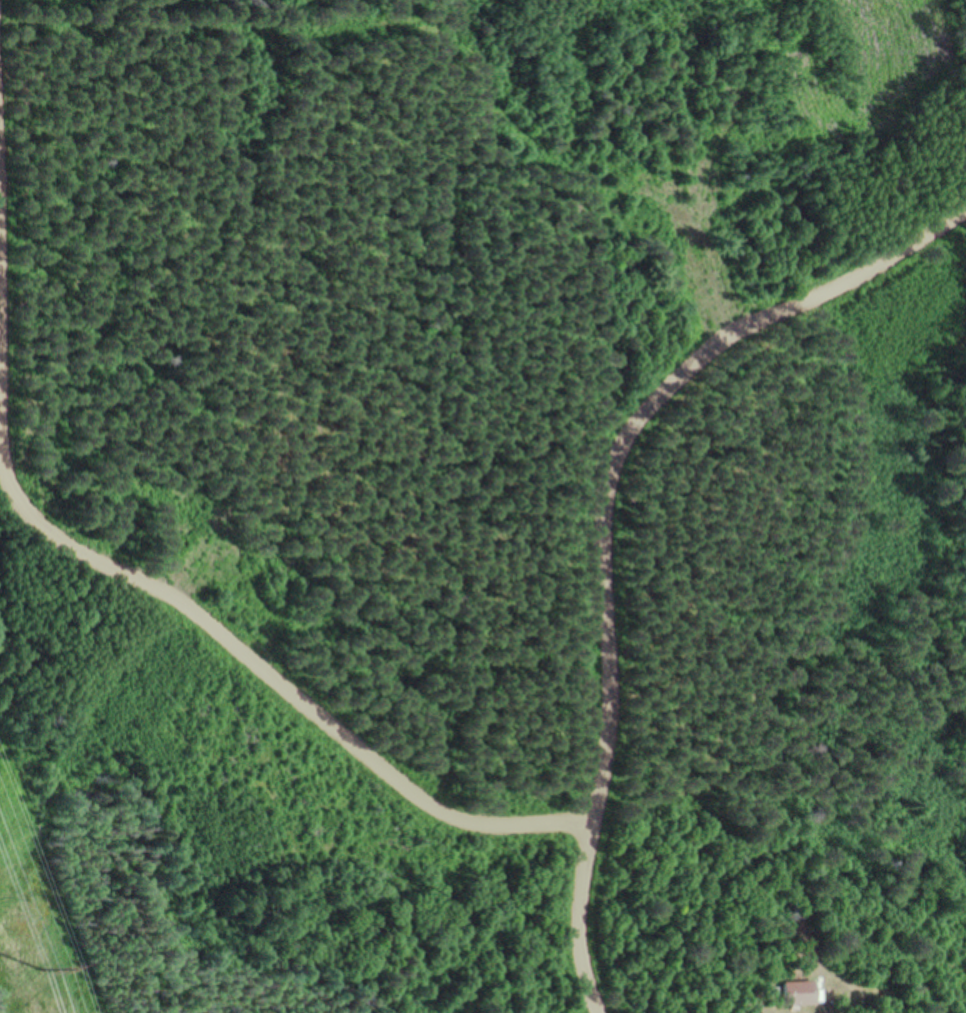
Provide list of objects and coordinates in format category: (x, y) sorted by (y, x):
road: (616, 526)
road: (92, 559)
power tower: (43, 970)
building: (798, 995)

